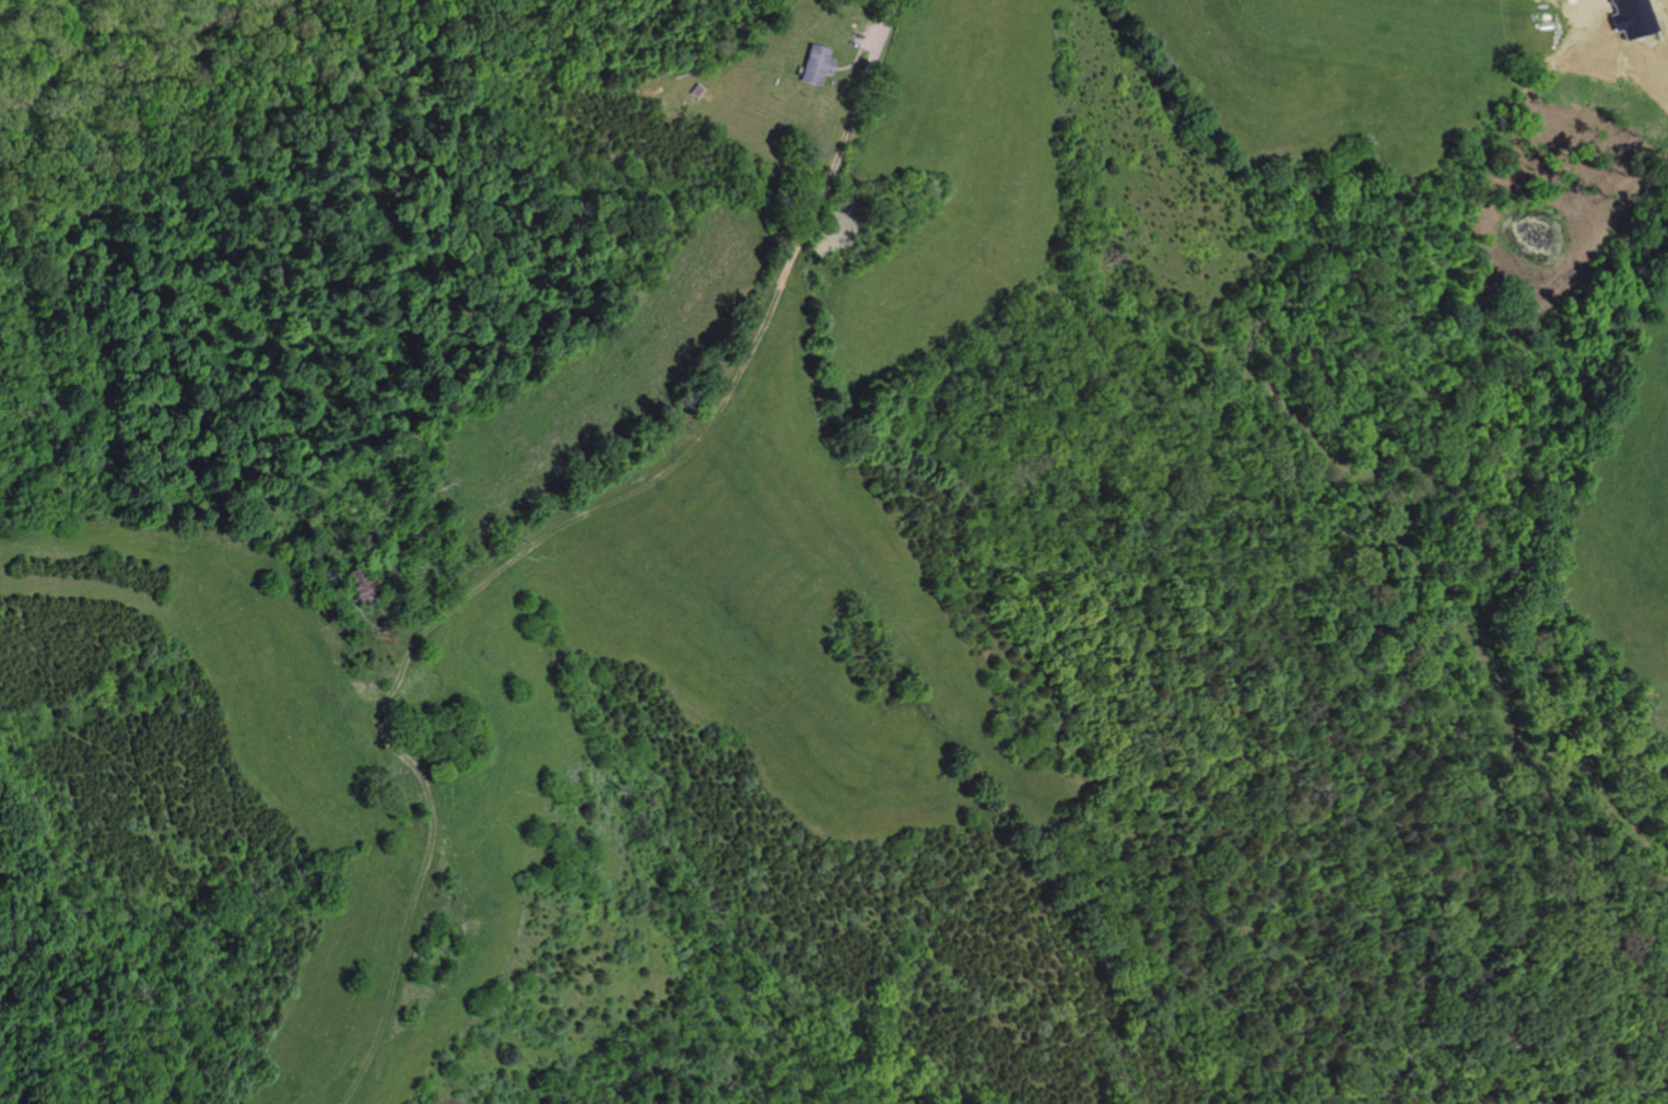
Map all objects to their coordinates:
building: (1628, 19)
road: (883, 26)
road: (865, 40)
road: (854, 62)
building: (817, 63)
road: (526, 554)

